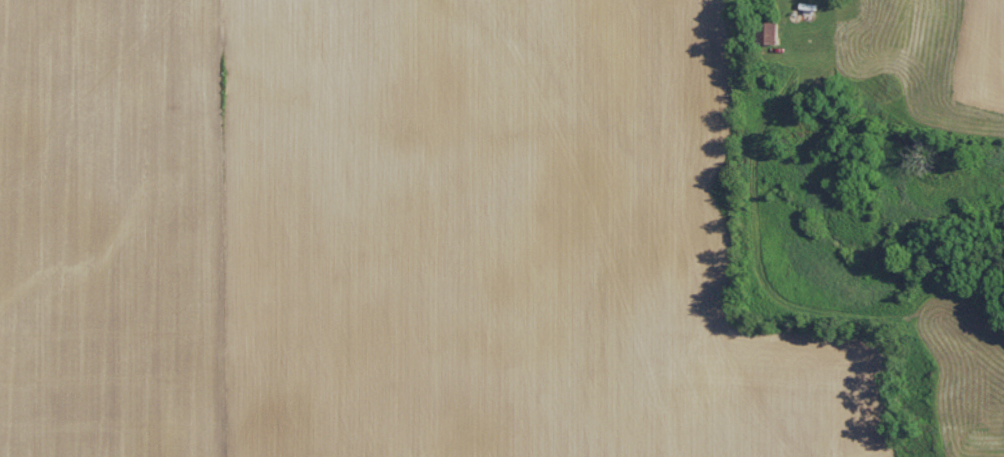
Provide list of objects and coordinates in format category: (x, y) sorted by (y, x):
building: (764, 31)

